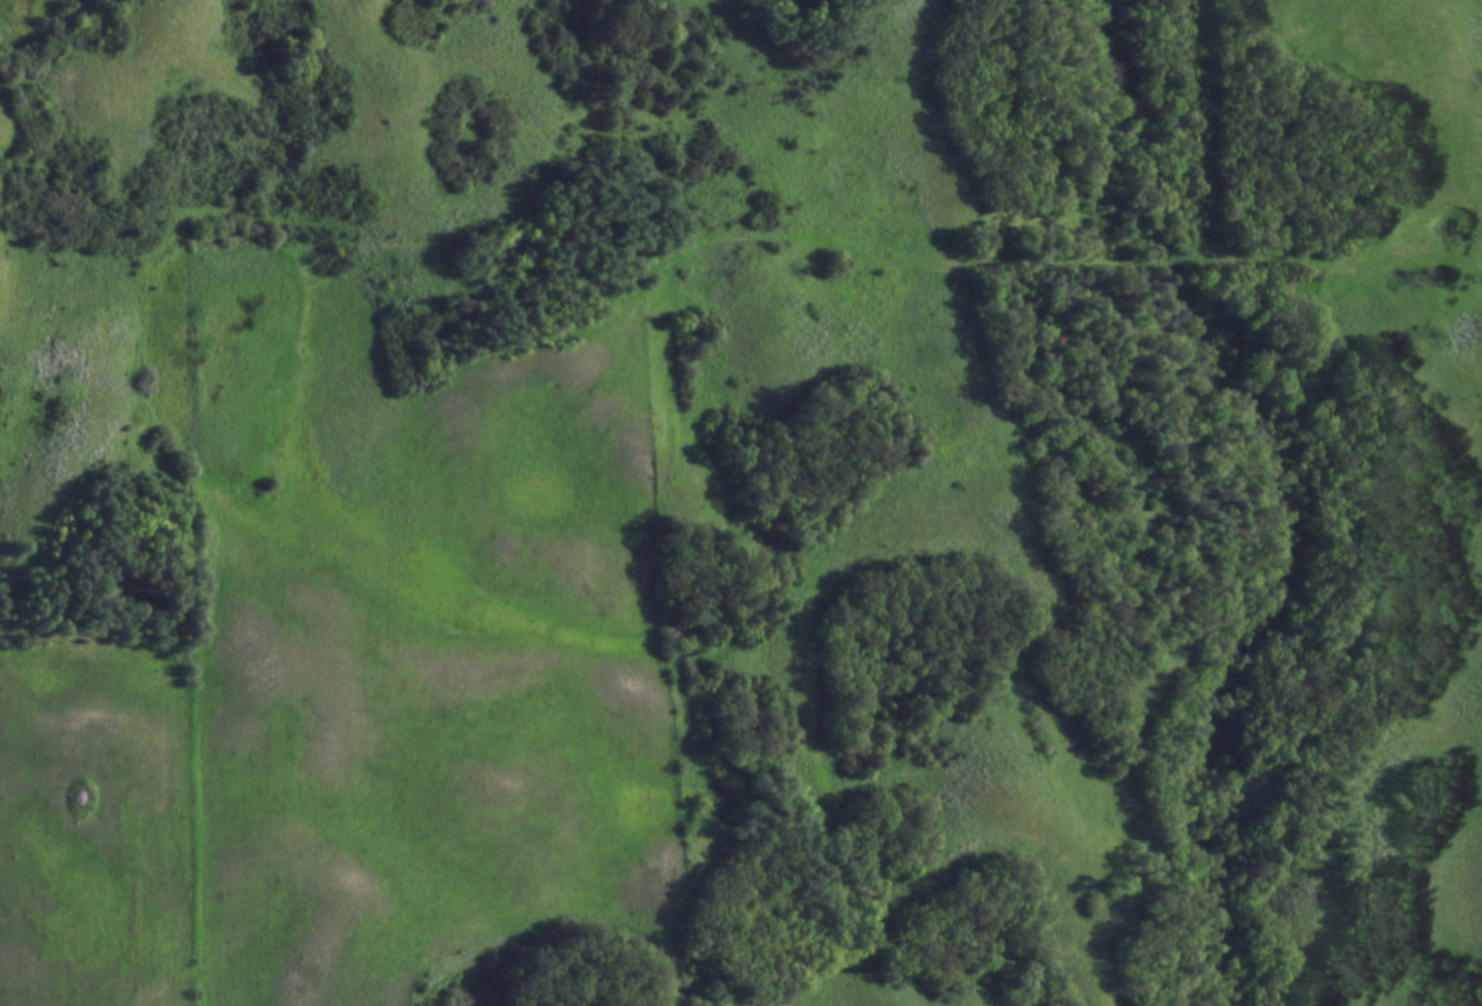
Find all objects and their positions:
road: (1064, 256)
road: (452, 618)

